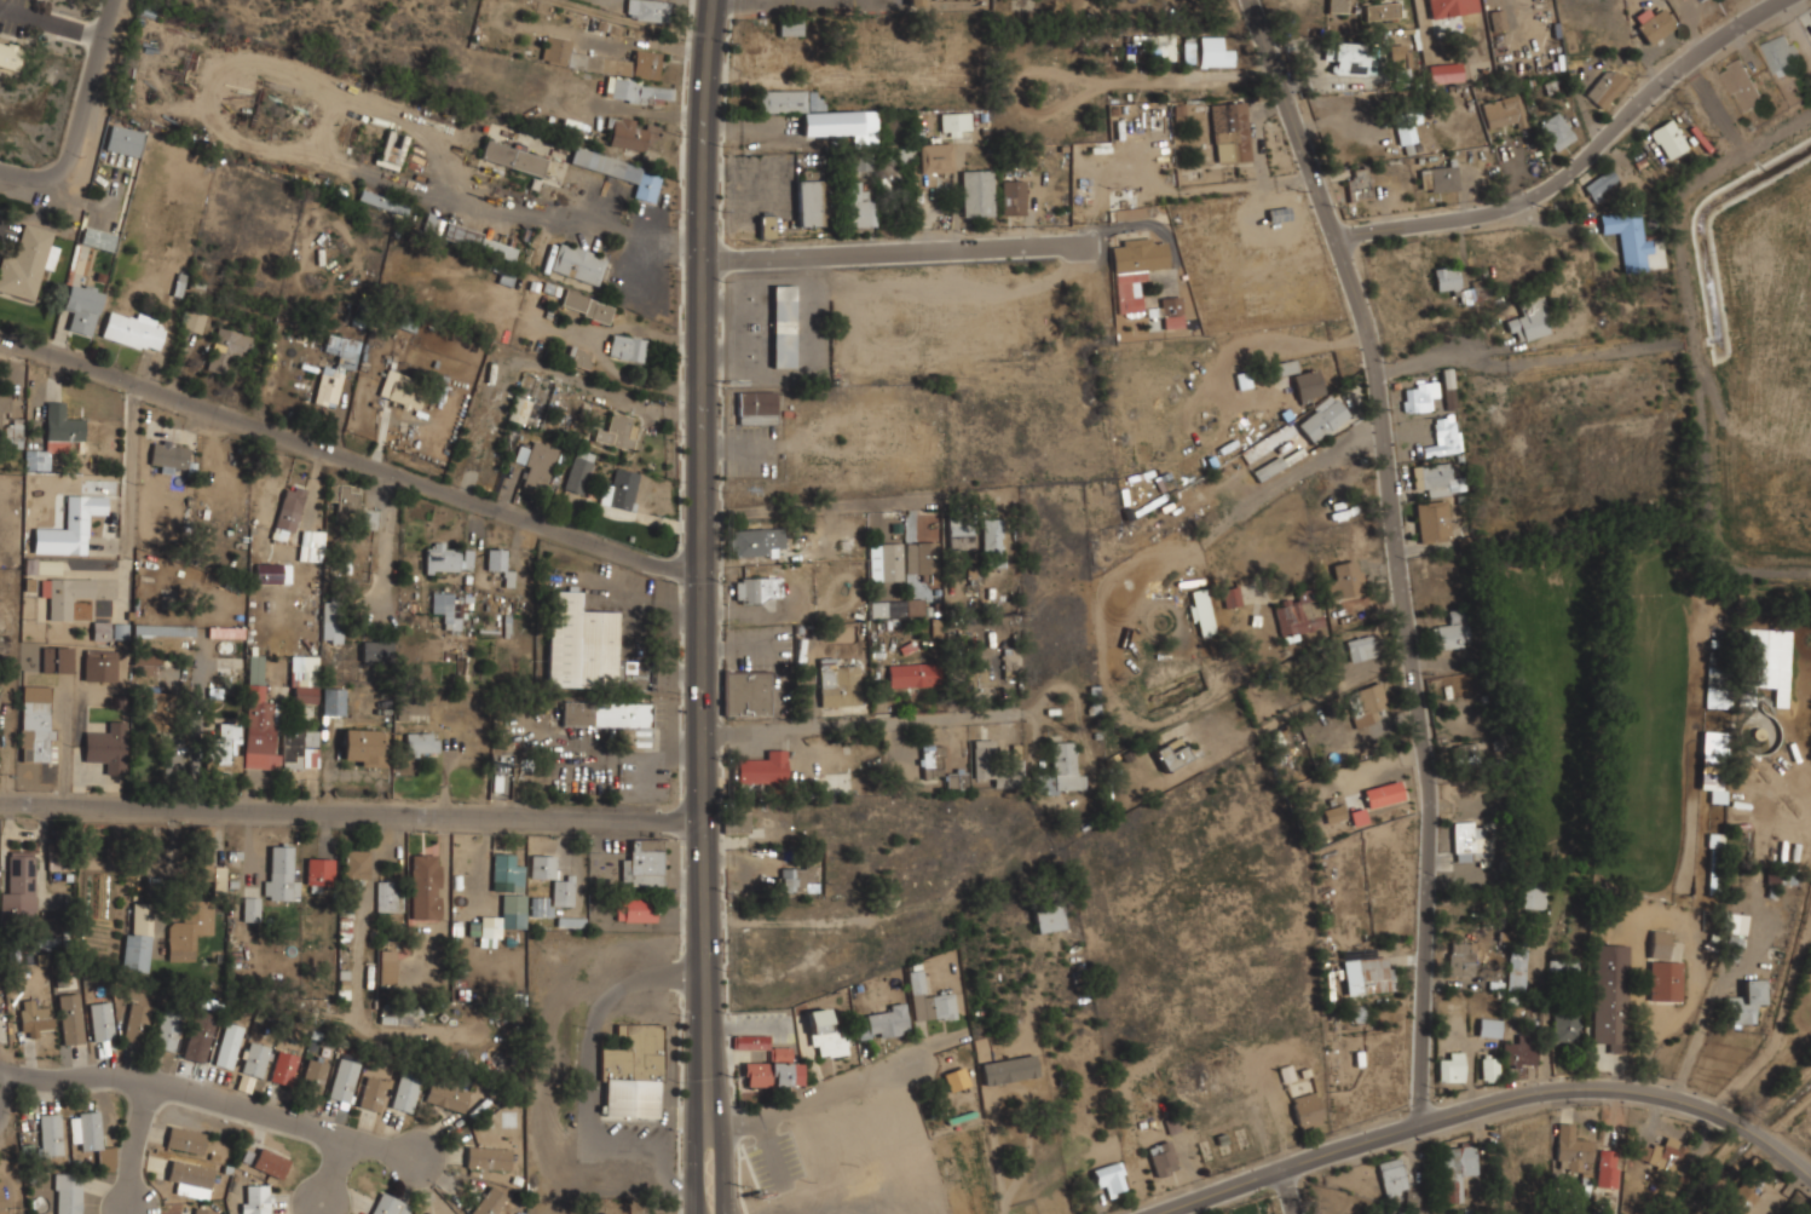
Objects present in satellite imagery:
building: (1701, 0)
road: (760, 1)
road: (768, 2)
building: (916, 2)
building: (1337, 6)
building: (1452, 7)
building: (646, 10)
building: (1383, 10)
building: (1498, 19)
building: (1656, 25)
building: (790, 27)
building: (1161, 47)
building: (1189, 50)
building: (761, 52)
building: (1212, 52)
building: (1781, 52)
building: (10, 54)
building: (1346, 57)
building: (1398, 57)
building: (615, 71)
building: (1444, 73)
building: (1742, 85)
building: (1607, 87)
building: (1504, 111)
building: (817, 113)
road: (81, 114)
building: (954, 123)
building: (1406, 126)
building: (1557, 131)
building: (1230, 132)
building: (631, 133)
building: (123, 139)
building: (1668, 139)
building: (392, 150)
building: (513, 156)
building: (935, 157)
road: (1578, 162)
building: (621, 172)
building: (1440, 178)
building: (1359, 184)
building: (1602, 184)
building: (977, 192)
building: (1013, 196)
building: (382, 202)
building: (809, 202)
building: (857, 205)
building: (1280, 213)
building: (433, 225)
building: (766, 225)
building: (98, 238)
building: (1628, 238)
building: (478, 242)
road: (896, 251)
building: (27, 263)
building: (577, 263)
building: (1136, 269)
building: (1457, 283)
building: (587, 306)
building: (81, 307)
building: (1171, 311)
building: (1529, 320)
building: (192, 321)
building: (783, 326)
building: (134, 330)
building: (627, 347)
building: (226, 349)
building: (579, 357)
building: (335, 369)
building: (1298, 384)
building: (405, 391)
building: (1418, 396)
building: (1449, 398)
building: (526, 402)
building: (756, 407)
building: (1323, 420)
building: (10, 425)
building: (618, 431)
building: (1441, 435)
building: (57, 436)
building: (171, 456)
road: (345, 456)
building: (536, 464)
building: (1269, 467)
building: (578, 471)
road: (132, 474)
building: (1436, 478)
building: (619, 489)
building: (344, 500)
road: (843, 505)
building: (289, 511)
building: (369, 519)
building: (1432, 520)
building: (70, 527)
building: (961, 533)
building: (317, 537)
building: (992, 537)
building: (755, 541)
road: (1398, 552)
building: (448, 559)
building: (496, 560)
building: (884, 562)
road: (1134, 562)
building: (48, 566)
building: (918, 571)
building: (272, 573)
building: (1343, 579)
building: (759, 589)
building: (64, 594)
building: (1233, 597)
road: (693, 606)
road: (709, 606)
building: (449, 609)
building: (884, 609)
building: (1201, 611)
building: (1299, 615)
building: (333, 621)
building: (165, 629)
building: (100, 631)
building: (120, 631)
building: (1453, 631)
building: (225, 632)
building: (587, 648)
building: (1361, 648)
building: (373, 650)
building: (58, 658)
building: (145, 663)
building: (100, 666)
building: (1765, 667)
building: (911, 674)
building: (304, 679)
building: (980, 680)
building: (840, 685)
building: (1717, 692)
building: (748, 694)
building: (333, 701)
building: (152, 703)
building: (411, 704)
building: (1366, 704)
building: (613, 719)
building: (35, 723)
road: (821, 725)
building: (273, 730)
road: (68, 741)
building: (421, 743)
building: (363, 747)
building: (106, 748)
building: (224, 748)
building: (1171, 754)
building: (1466, 756)
building: (932, 761)
building: (984, 765)
building: (762, 769)
building: (1061, 770)
building: (1714, 776)
building: (956, 779)
building: (1383, 793)
road: (354, 811)
building: (1334, 813)
building: (1357, 817)
building: (1780, 821)
building: (736, 823)
building: (1463, 841)
building: (58, 857)
building: (203, 859)
building: (644, 863)
building: (1714, 863)
building: (356, 864)
building: (507, 870)
building: (319, 871)
building: (219, 873)
building: (279, 873)
building: (797, 878)
building: (1781, 878)
building: (19, 887)
building: (425, 887)
building: (563, 888)
building: (1535, 892)
building: (390, 896)
building: (513, 903)
building: (250, 909)
building: (635, 910)
building: (1048, 916)
building: (1736, 924)
building: (490, 927)
building: (50, 933)
building: (138, 936)
building: (181, 942)
building: (1732, 948)
building: (1460, 959)
building: (386, 967)
building: (1517, 968)
building: (1665, 968)
building: (1368, 974)
building: (916, 982)
building: (1611, 996)
building: (1744, 1002)
building: (939, 1006)
building: (400, 1015)
building: (35, 1018)
building: (70, 1018)
building: (100, 1020)
building: (135, 1022)
building: (883, 1023)
road: (1707, 1023)
building: (1489, 1026)
building: (1565, 1026)
building: (168, 1029)
building: (824, 1034)
building: (200, 1036)
building: (751, 1042)
building: (229, 1046)
building: (1519, 1053)
building: (255, 1058)
building: (283, 1066)
building: (1452, 1068)
building: (1489, 1069)
building: (1009, 1070)
building: (633, 1071)
building: (772, 1071)
building: (313, 1074)
building: (344, 1078)
building: (956, 1080)
road: (6, 1088)
building: (404, 1092)
building: (373, 1093)
building: (446, 1095)
road: (215, 1098)
building: (1303, 1098)
road: (1493, 1104)
road: (795, 1106)
building: (90, 1130)
building: (50, 1133)
building: (186, 1140)
road: (133, 1144)
building: (1571, 1149)
building: (1668, 1155)
building: (488, 1158)
building: (1163, 1158)
building: (271, 1162)
road: (333, 1168)
building: (1608, 1169)
building: (1457, 1170)
building: (1392, 1176)
building: (1109, 1178)
building: (189, 1179)
building: (68, 1193)
road: (1281, 1193)
building: (1413, 1197)
building: (256, 1199)
building: (1740, 1199)
building: (2, 1201)
building: (489, 1202)
building: (202, 1212)

